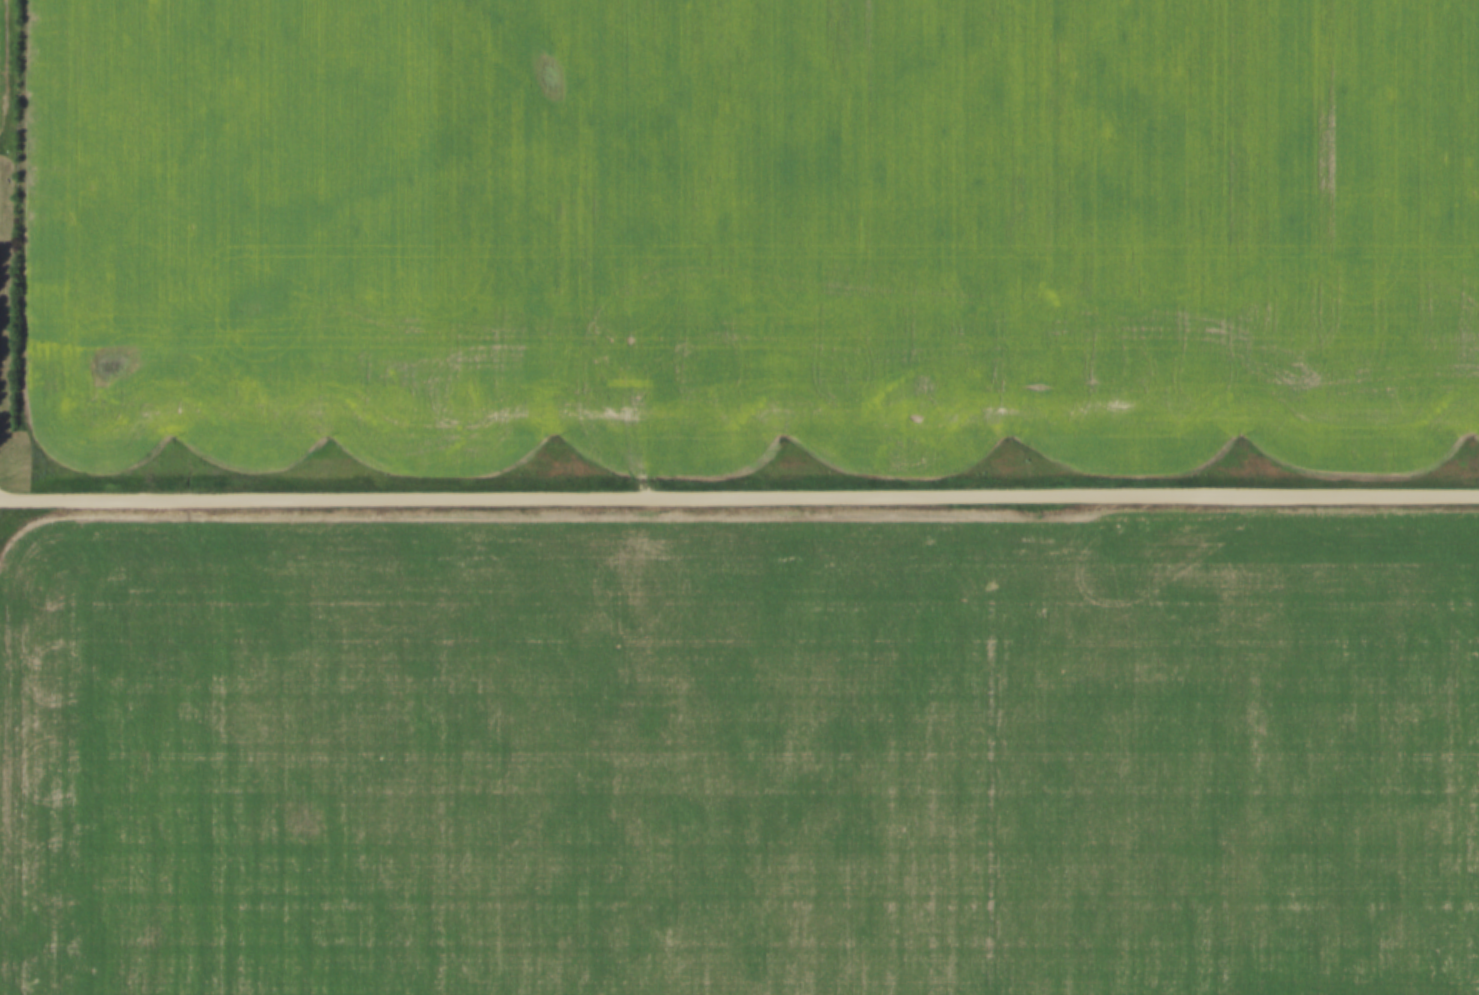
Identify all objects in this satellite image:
road: (739, 497)

